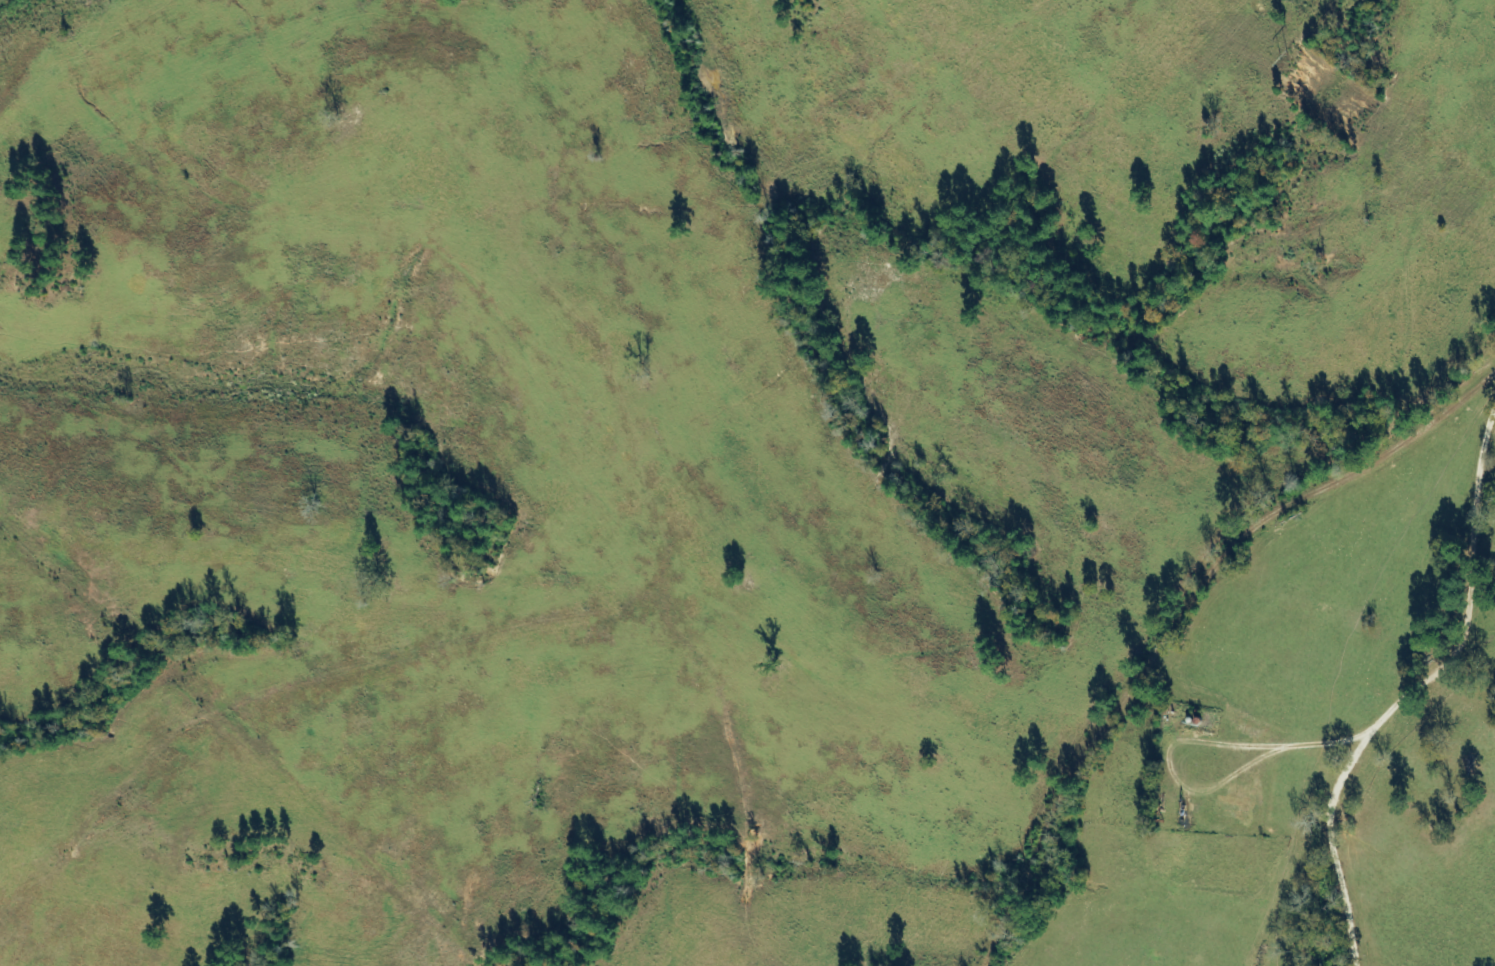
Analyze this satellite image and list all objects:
power tower: (1287, 55)
road: (1213, 618)

